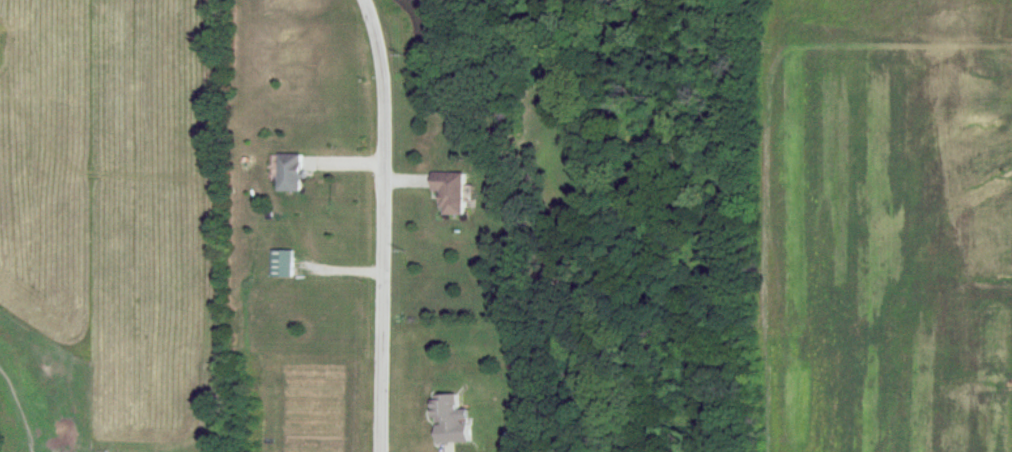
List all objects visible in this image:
building: (289, 174)
building: (448, 192)
road: (385, 224)
crop: (884, 228)
building: (281, 264)
building: (447, 422)

